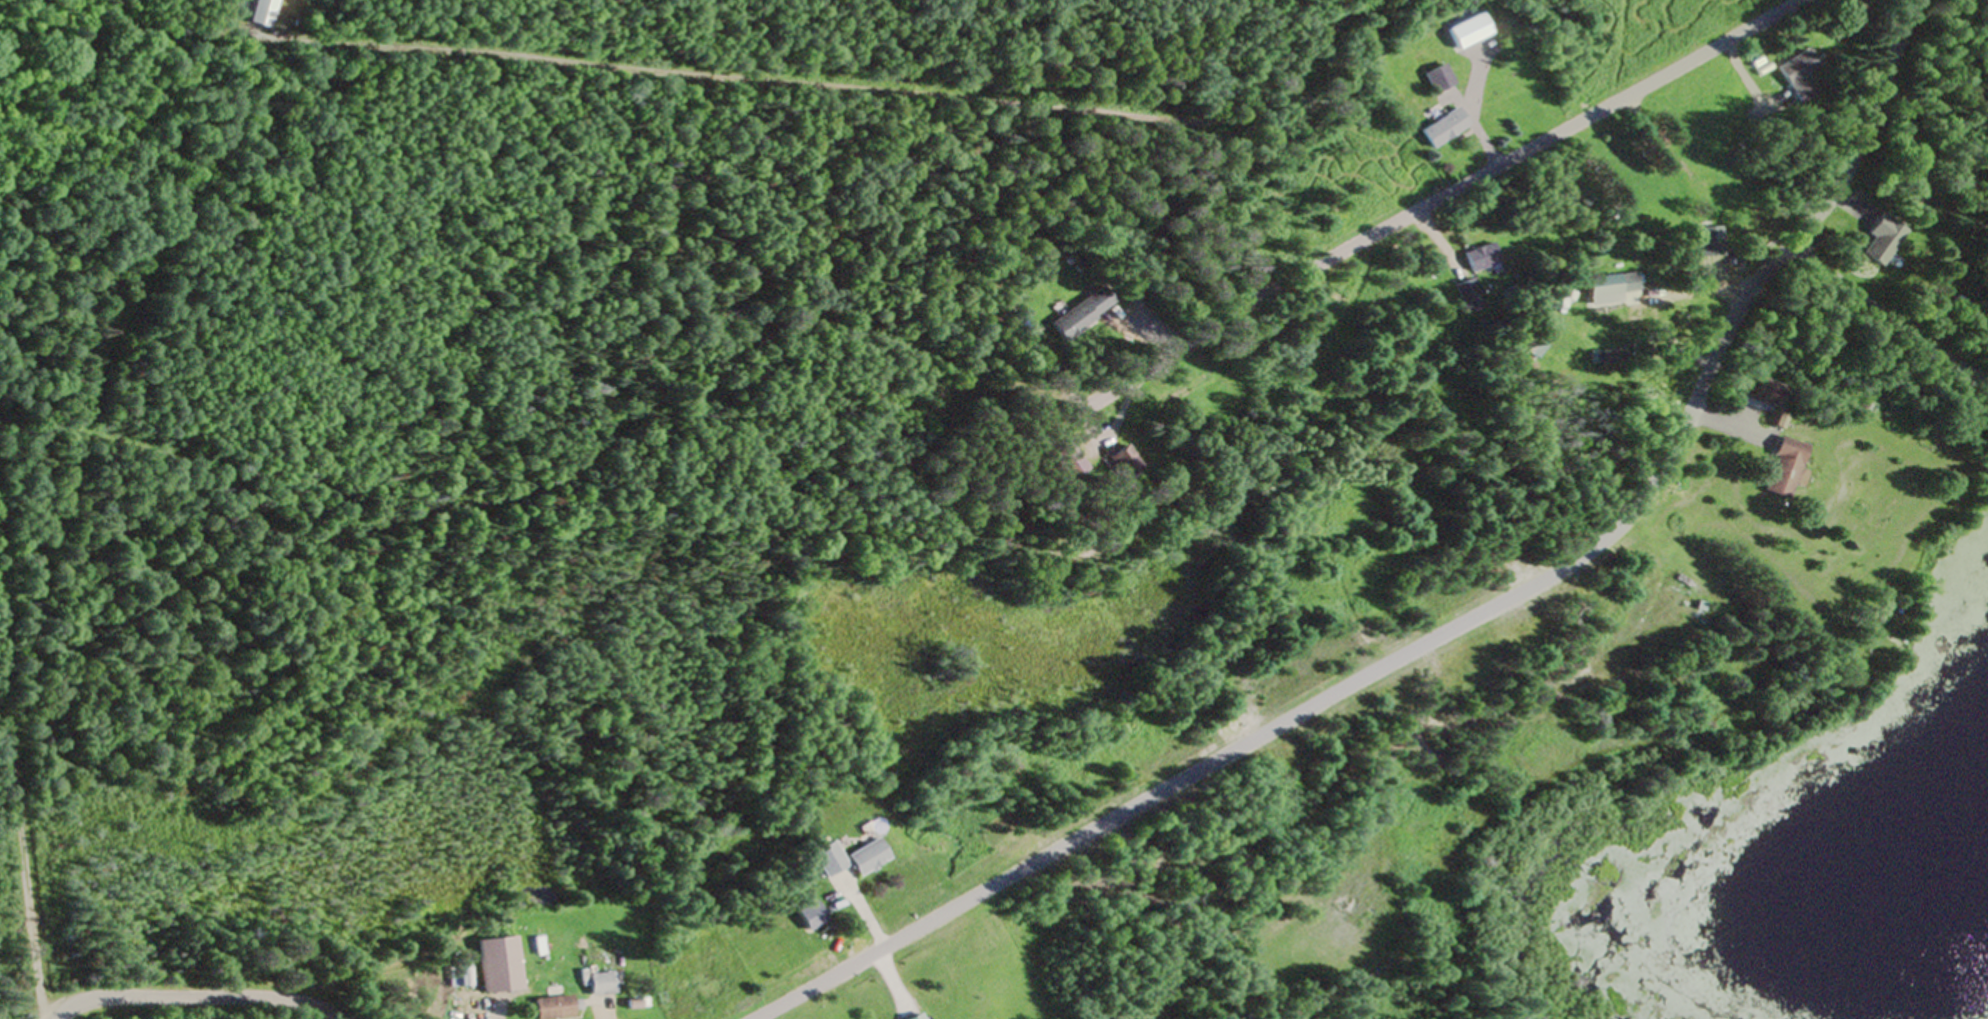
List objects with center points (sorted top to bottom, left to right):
building: (1798, 76)
building: (1437, 80)
building: (1442, 130)
road: (1462, 188)
building: (1877, 240)
building: (1479, 259)
building: (1600, 291)
building: (1465, 297)
building: (1957, 307)
building: (1078, 315)
road: (1888, 316)
park: (1890, 324)
building: (1606, 358)
building: (1759, 390)
building: (1067, 464)
building: (1121, 466)
building: (1783, 470)
road: (1456, 629)
building: (864, 858)
building: (826, 861)
building: (496, 966)
building: (457, 978)
building: (598, 985)
road: (196, 999)
building: (550, 1008)
building: (914, 1017)

